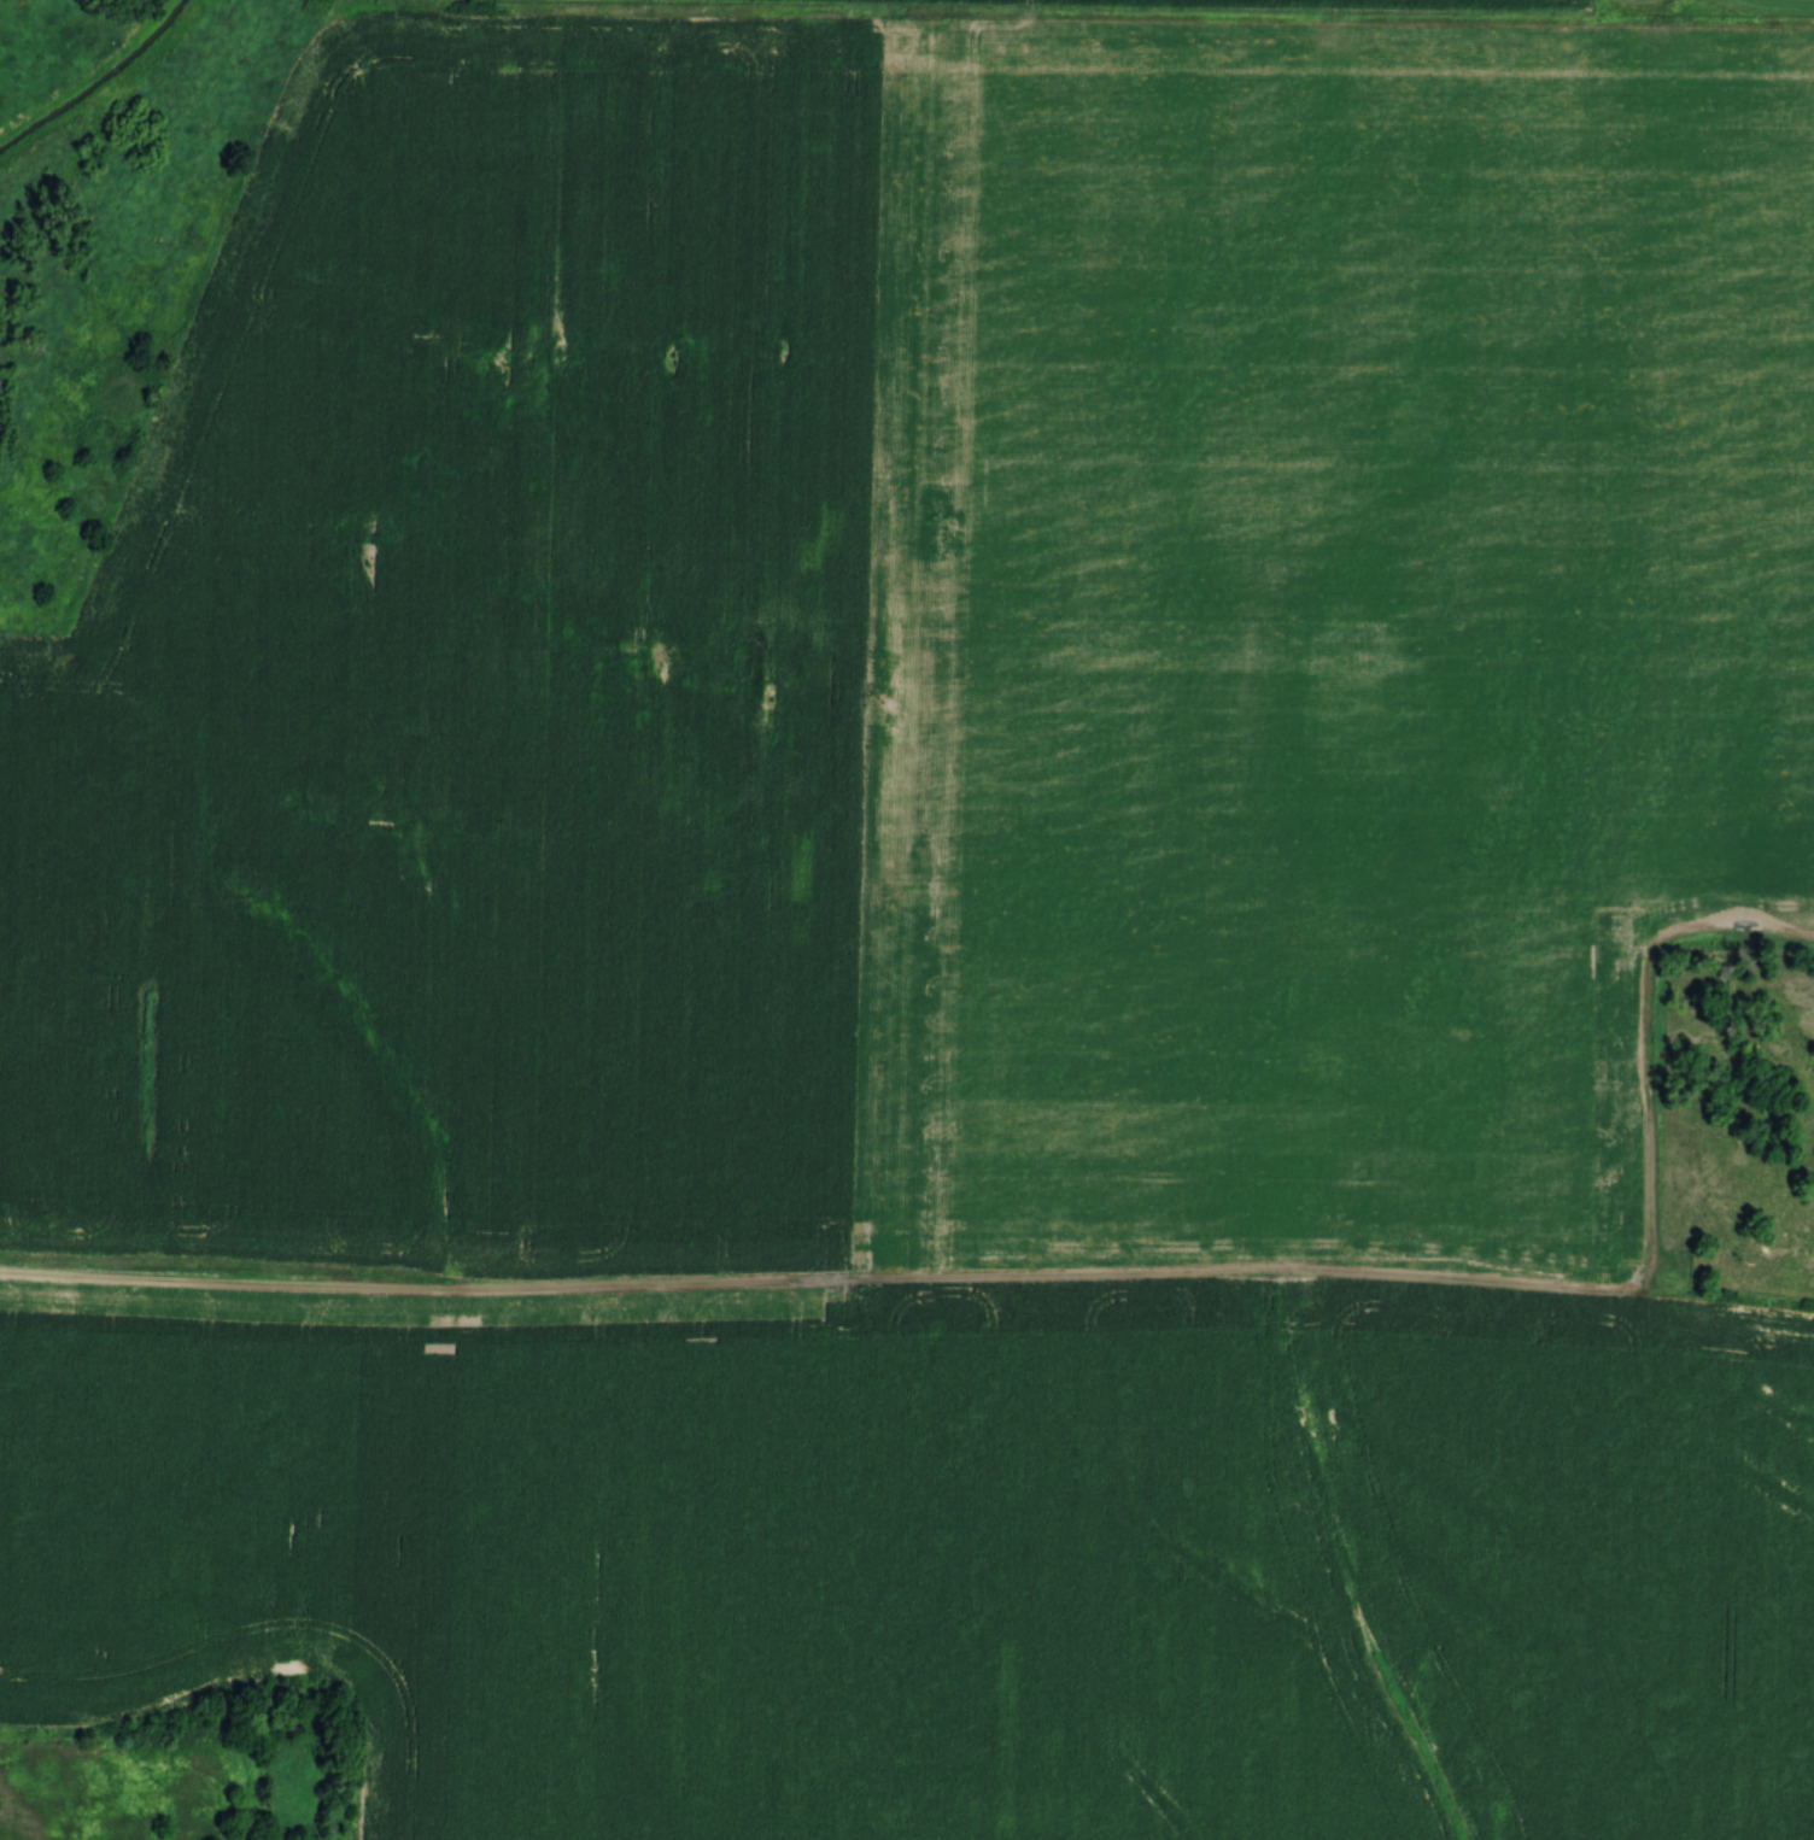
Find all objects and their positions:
road: (1757, 1533)

